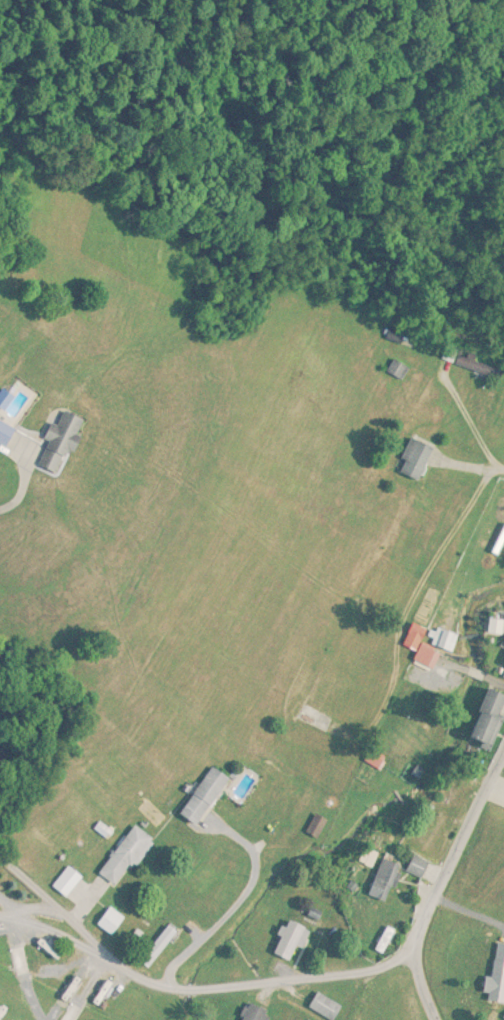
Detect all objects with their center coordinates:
building: (396, 338)
building: (463, 361)
road: (473, 425)
building: (6, 433)
building: (62, 440)
building: (417, 459)
road: (472, 466)
road: (22, 483)
road: (413, 596)
building: (416, 637)
building: (442, 639)
building: (321, 700)
building: (490, 718)
road: (502, 759)
building: (206, 797)
building: (126, 856)
building: (419, 866)
building: (385, 880)
road: (440, 881)
building: (68, 882)
road: (235, 902)
road: (27, 909)
building: (112, 921)
building: (291, 940)
building: (159, 947)
building: (51, 948)
building: (32, 963)
building: (497, 979)
road: (185, 984)
building: (91, 987)
building: (104, 992)
building: (326, 1007)
building: (255, 1013)

